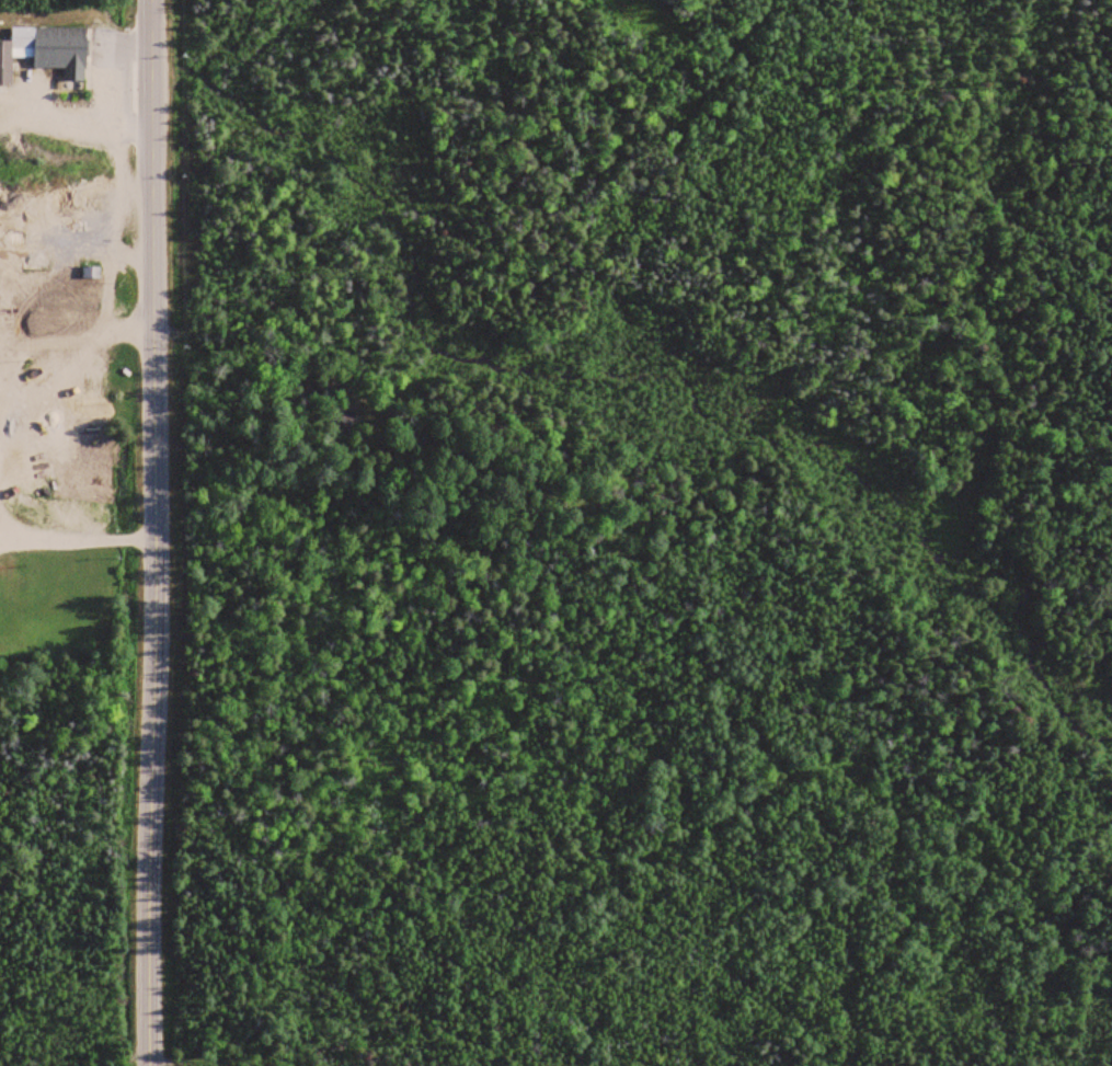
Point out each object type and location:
building: (46, 50)
building: (90, 272)
road: (64, 389)
building: (340, 421)
road: (79, 532)
road: (159, 532)

